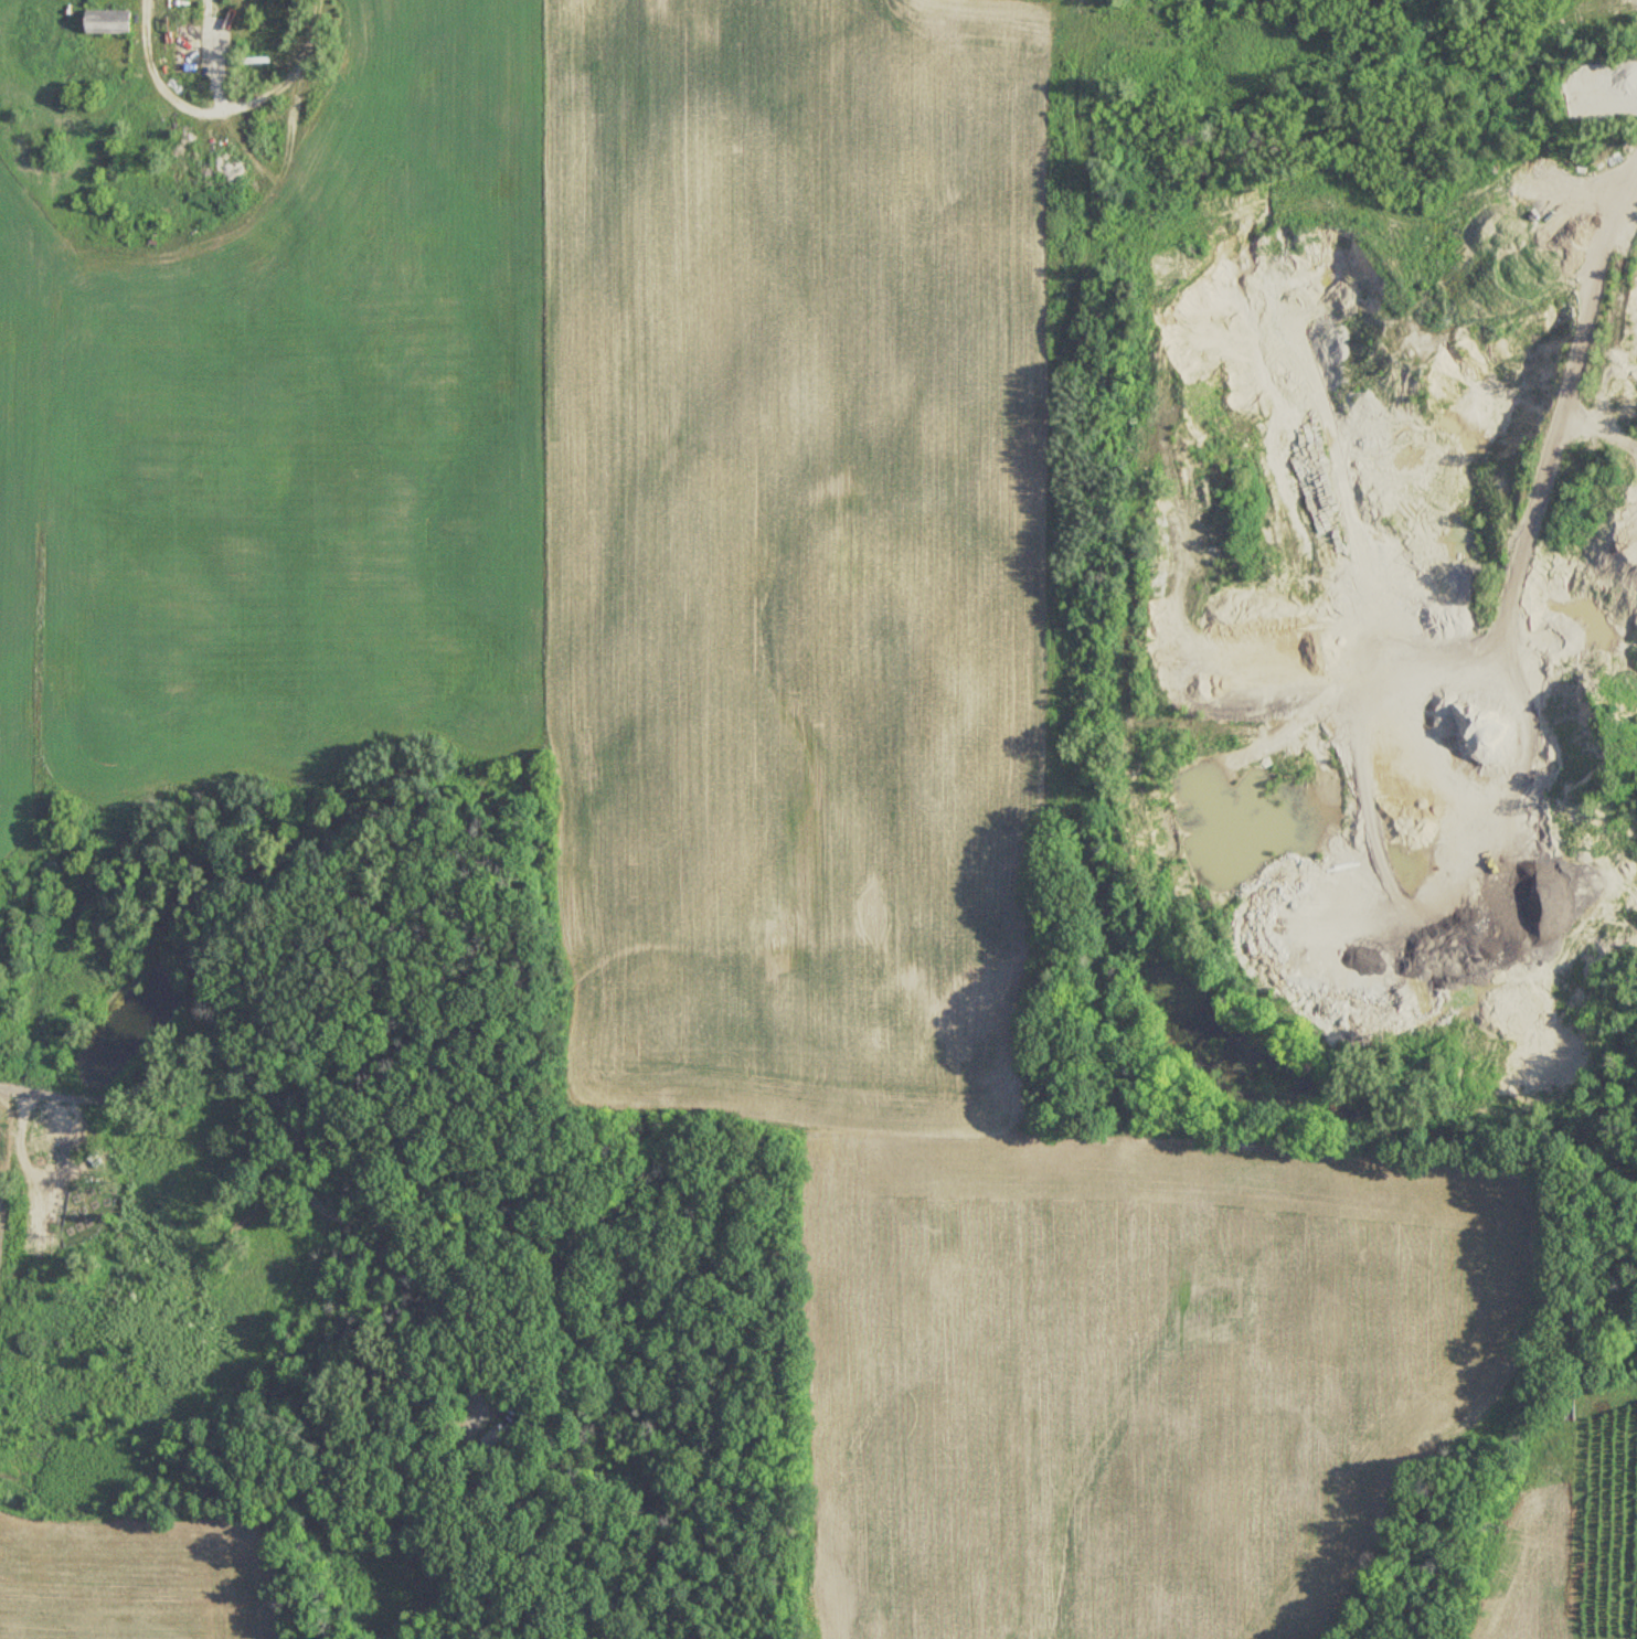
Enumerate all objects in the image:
building: (192, 2)
building: (107, 24)
road: (222, 105)
road: (1048, 361)
quarry: (1375, 602)
road: (1487, 618)
road: (297, 1132)
building: (1569, 1409)
building: (493, 1438)
road: (1605, 1635)

